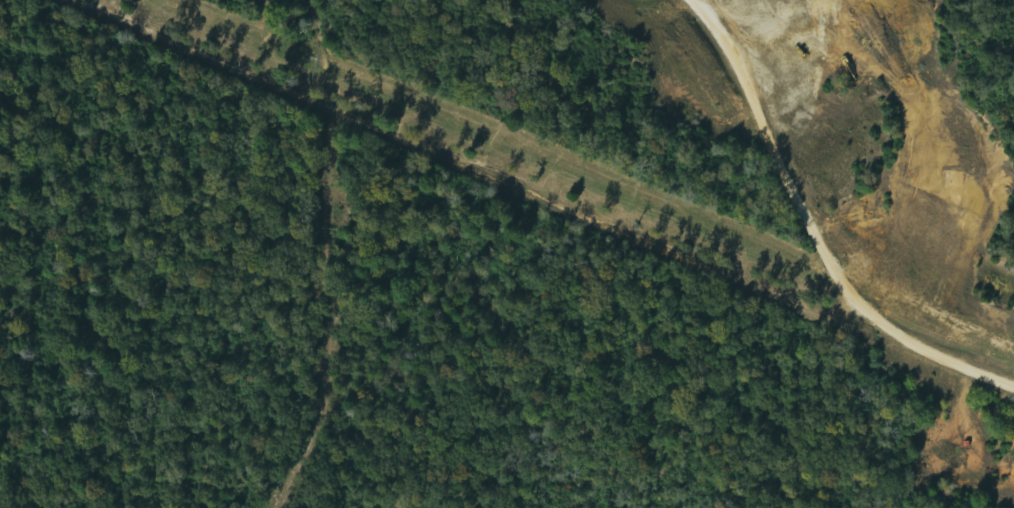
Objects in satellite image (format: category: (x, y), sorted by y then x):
road: (806, 233)

